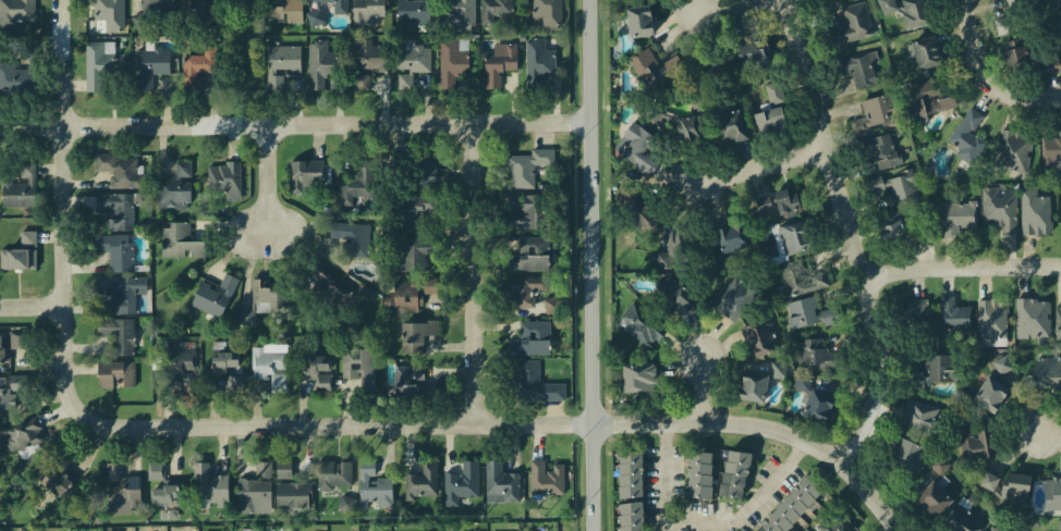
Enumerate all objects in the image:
building: (239, 0)
building: (158, 4)
building: (187, 4)
road: (733, 7)
building: (282, 10)
building: (492, 10)
building: (14, 11)
building: (365, 11)
building: (907, 11)
building: (412, 12)
building: (460, 12)
building: (321, 13)
building: (546, 13)
building: (205, 14)
building: (1016, 14)
building: (101, 16)
building: (637, 20)
road: (971, 20)
building: (851, 24)
building: (923, 51)
building: (1028, 55)
building: (751, 57)
building: (366, 62)
building: (450, 62)
building: (537, 62)
building: (318, 63)
building: (411, 63)
building: (498, 63)
building: (279, 64)
building: (196, 65)
building: (98, 66)
building: (149, 67)
building: (858, 67)
building: (655, 69)
building: (14, 78)
road: (1003, 90)
building: (931, 94)
building: (769, 109)
building: (874, 113)
road: (294, 124)
building: (711, 127)
building: (966, 135)
building: (633, 148)
building: (878, 149)
building: (1012, 153)
building: (1051, 153)
road: (770, 163)
building: (525, 164)
building: (117, 166)
building: (303, 173)
building: (425, 174)
building: (221, 180)
road: (269, 186)
building: (894, 186)
building: (20, 188)
building: (176, 188)
building: (354, 189)
building: (789, 201)
building: (768, 203)
building: (646, 205)
building: (113, 208)
building: (407, 208)
building: (999, 208)
building: (1034, 212)
building: (516, 213)
building: (958, 218)
road: (63, 223)
building: (898, 227)
building: (724, 232)
building: (349, 233)
road: (858, 237)
building: (790, 239)
building: (178, 240)
building: (776, 243)
building: (407, 247)
building: (112, 248)
building: (527, 248)
building: (670, 252)
building: (17, 254)
road: (592, 264)
road: (964, 268)
road: (475, 275)
building: (801, 279)
building: (326, 286)
building: (119, 289)
building: (528, 289)
building: (411, 293)
building: (214, 294)
building: (670, 296)
building: (731, 299)
building: (551, 305)
road: (32, 306)
building: (260, 306)
building: (912, 307)
building: (798, 308)
building: (953, 316)
building: (1032, 317)
building: (1057, 320)
building: (991, 322)
building: (637, 323)
building: (414, 328)
building: (113, 335)
building: (529, 337)
building: (754, 339)
building: (812, 346)
building: (10, 347)
building: (268, 363)
building: (355, 366)
building: (221, 368)
building: (781, 370)
building: (932, 370)
building: (178, 371)
building: (1048, 372)
building: (113, 373)
building: (314, 373)
building: (407, 373)
building: (630, 380)
building: (15, 383)
building: (993, 383)
building: (532, 384)
building: (802, 384)
building: (234, 385)
building: (746, 386)
road: (703, 391)
building: (5, 392)
building: (816, 396)
building: (924, 416)
road: (681, 425)
road: (379, 427)
road: (1048, 432)
building: (975, 435)
building: (19, 442)
road: (815, 450)
building: (904, 453)
building: (63, 458)
building: (939, 468)
building: (202, 471)
building: (626, 473)
building: (730, 473)
building: (329, 474)
building: (698, 474)
building: (66, 479)
building: (542, 480)
building: (418, 482)
building: (460, 483)
building: (497, 483)
building: (286, 486)
building: (1009, 486)
building: (118, 487)
building: (370, 487)
building: (158, 492)
building: (251, 492)
building: (1052, 493)
building: (210, 495)
building: (931, 497)
building: (346, 504)
building: (780, 506)
road: (706, 514)
building: (626, 517)
building: (961, 519)
building: (837, 522)
building: (251, 529)
building: (995, 529)

